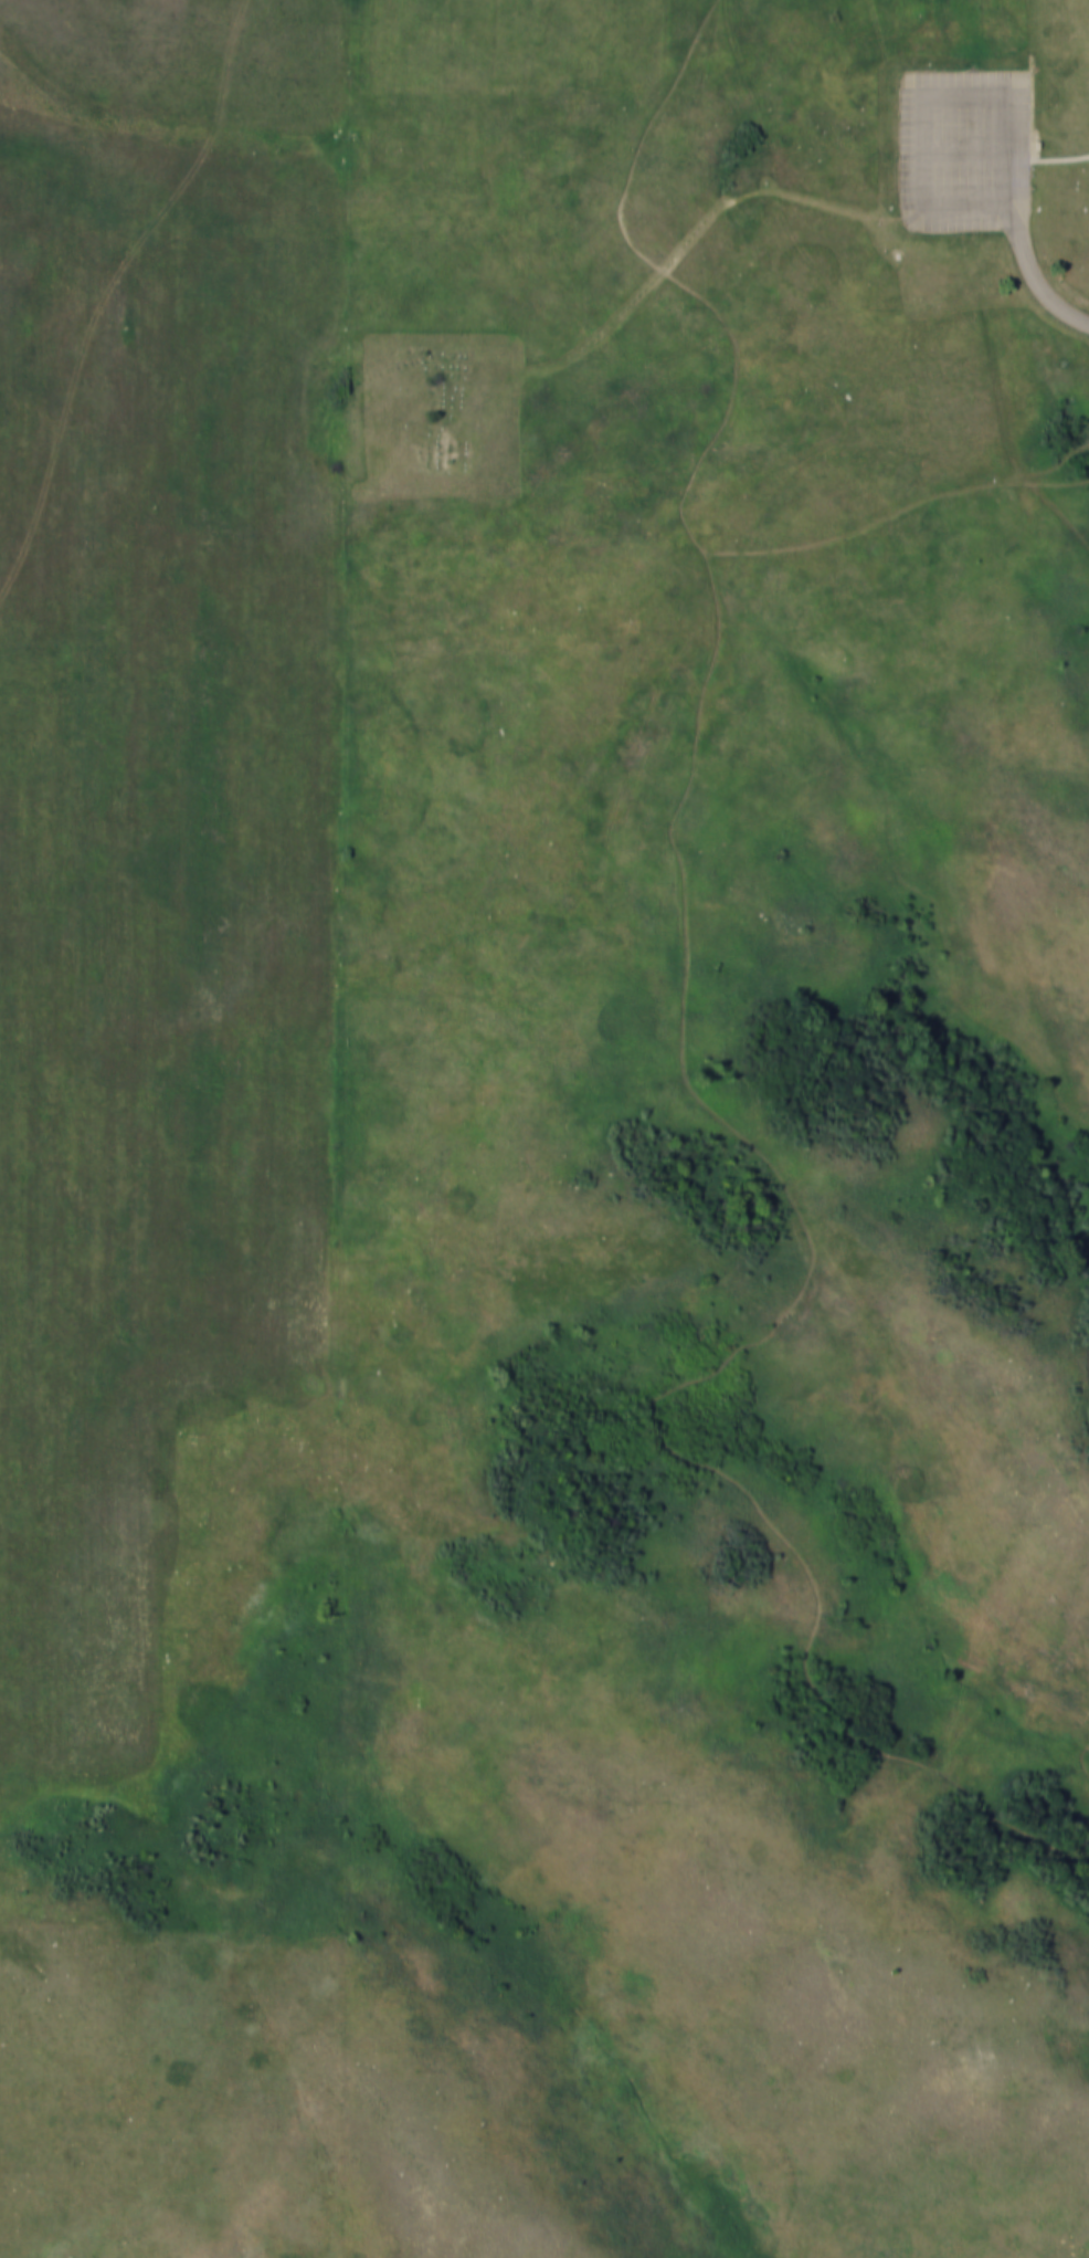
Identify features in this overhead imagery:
parking lot: (962, 148)
road: (1059, 157)
road: (743, 195)
road: (1042, 287)
road: (988, 411)
park: (435, 413)
park: (717, 1130)

